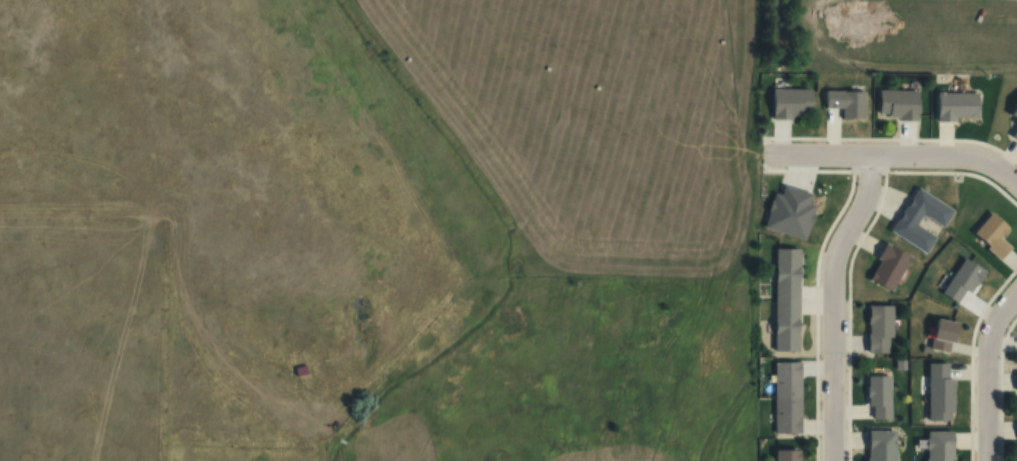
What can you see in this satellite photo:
building: (793, 102)
building: (847, 102)
building: (899, 104)
building: (958, 105)
building: (1014, 115)
building: (1015, 132)
road: (890, 153)
building: (791, 212)
building: (920, 218)
building: (994, 234)
building: (890, 266)
building: (964, 281)
building: (787, 299)
road: (830, 303)
building: (880, 327)
building: (946, 335)
road: (987, 370)
building: (940, 390)
building: (787, 396)
building: (880, 396)
building: (881, 444)
building: (940, 445)
building: (788, 455)

